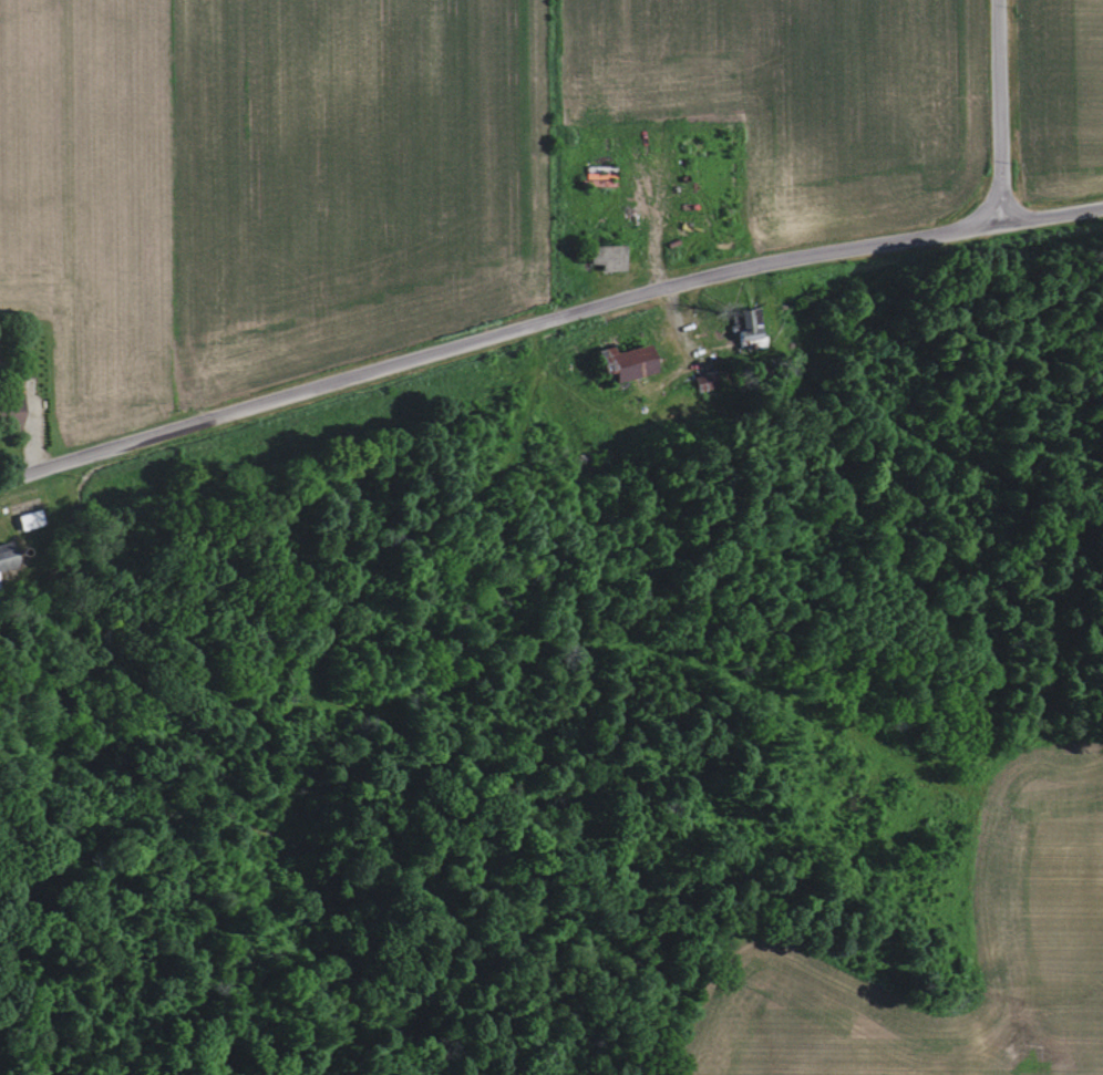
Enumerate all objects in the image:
road: (990, 112)
building: (606, 257)
road: (546, 317)
building: (745, 323)
road: (682, 335)
building: (626, 362)
building: (705, 381)
road: (23, 431)
building: (30, 519)
building: (6, 556)
building: (0, 591)

